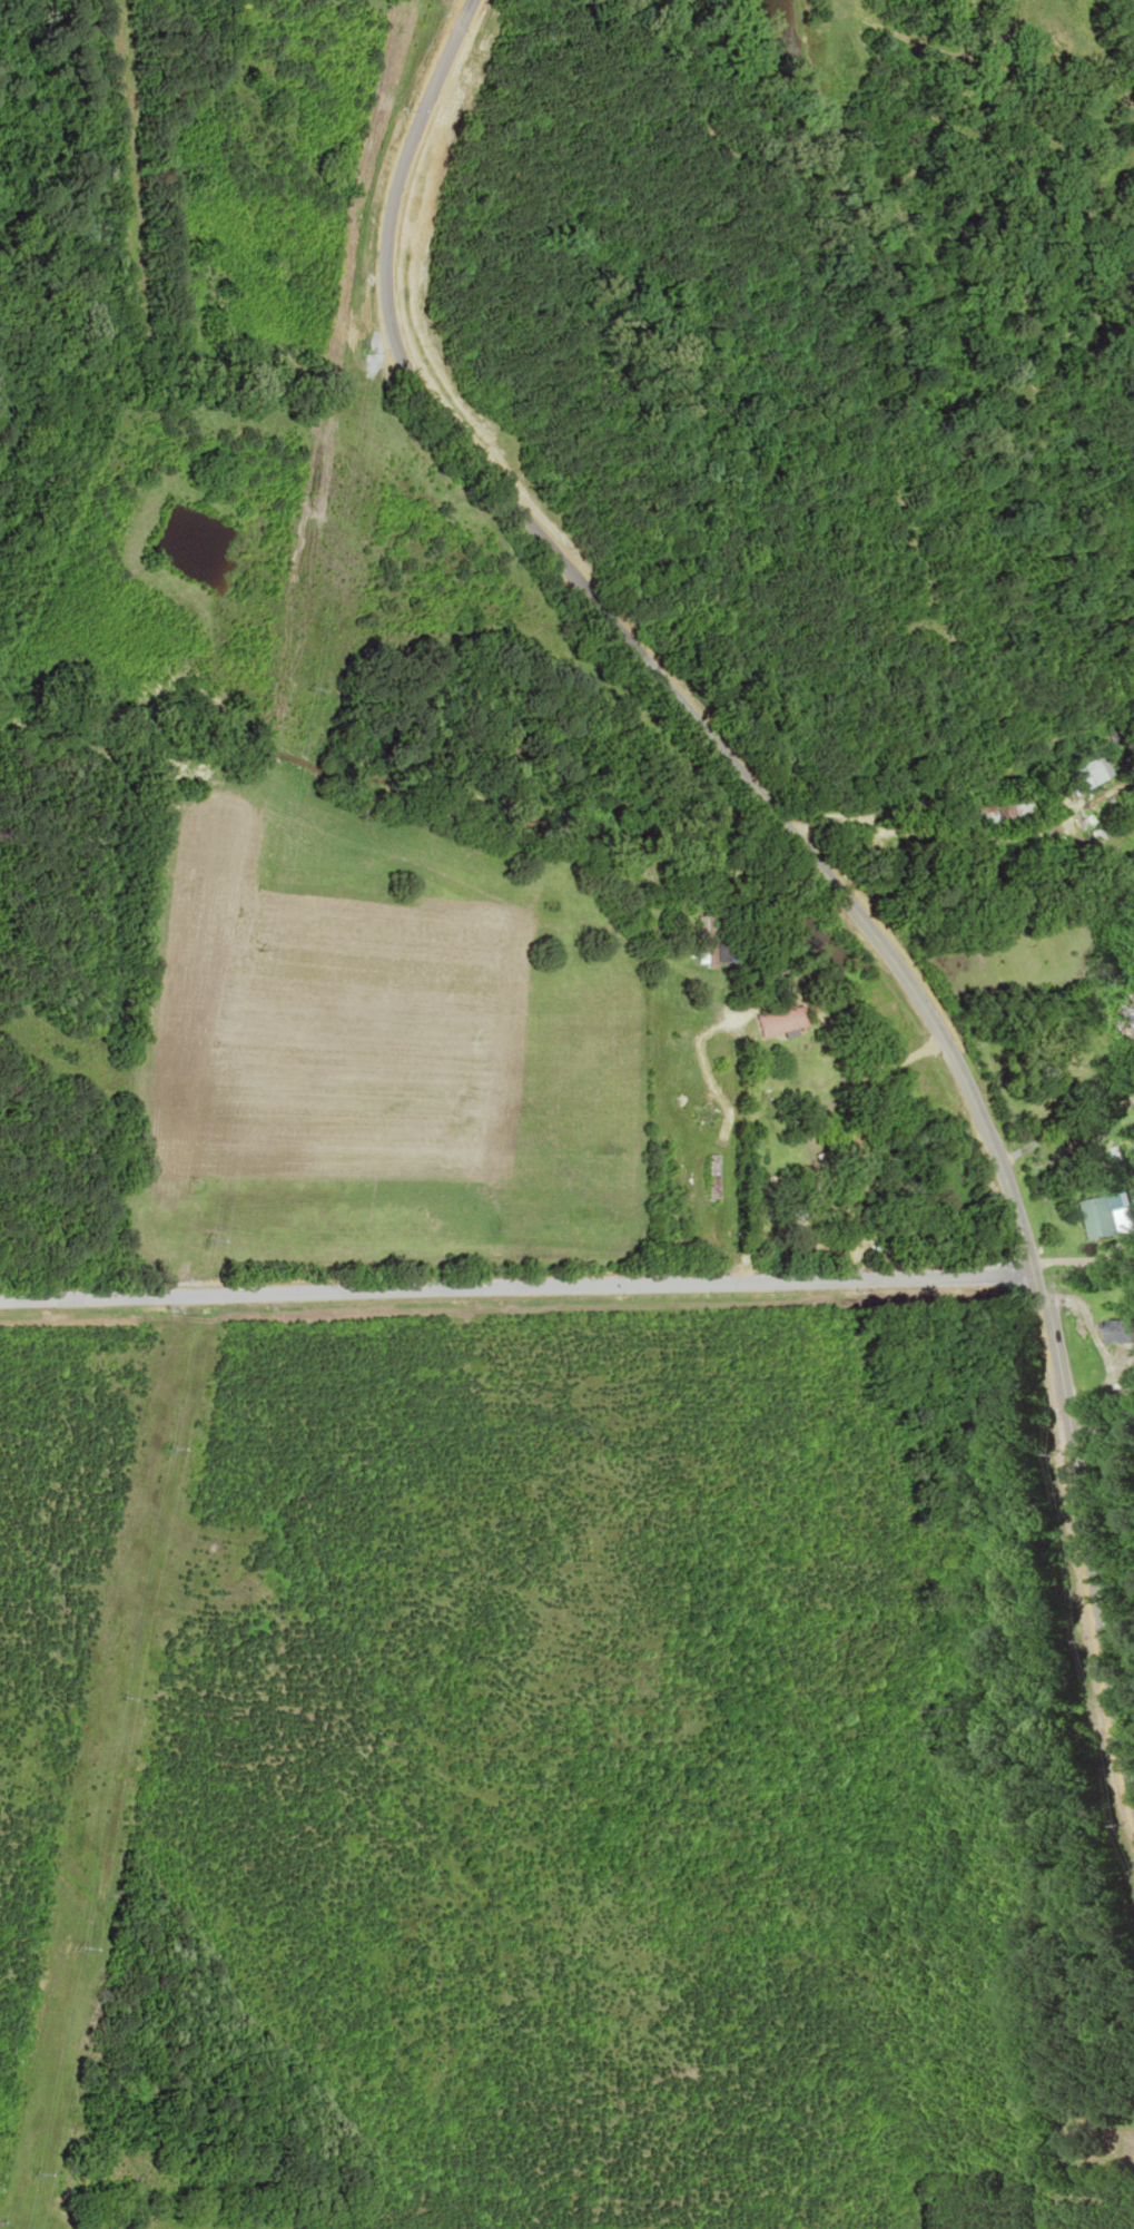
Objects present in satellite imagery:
building: (1088, 782)
building: (1000, 816)
road: (819, 858)
building: (1117, 1018)
building: (781, 1021)
building: (714, 1178)
building: (791, 1214)
building: (1098, 1216)
road: (517, 1285)
building: (1120, 1333)

